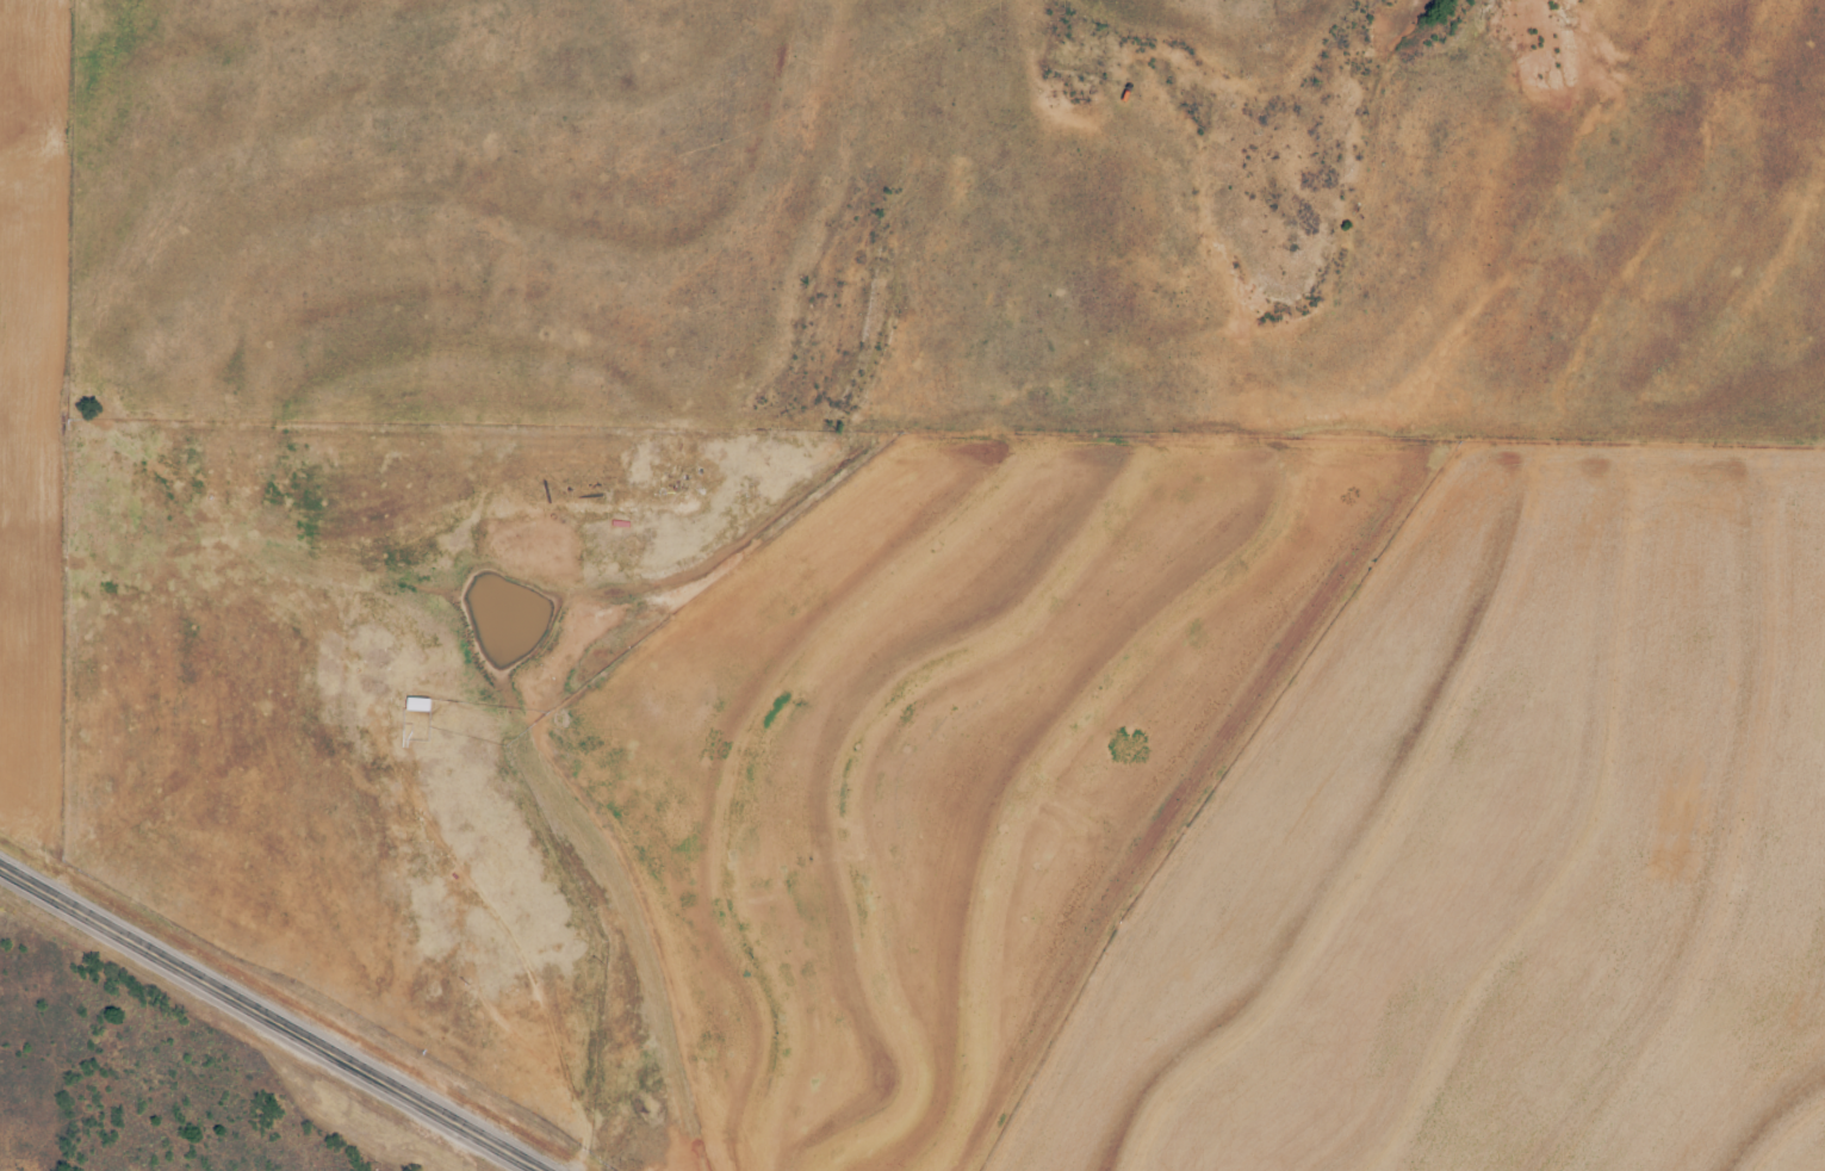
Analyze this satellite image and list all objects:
road: (1106, 481)
building: (422, 702)
road: (274, 1016)

